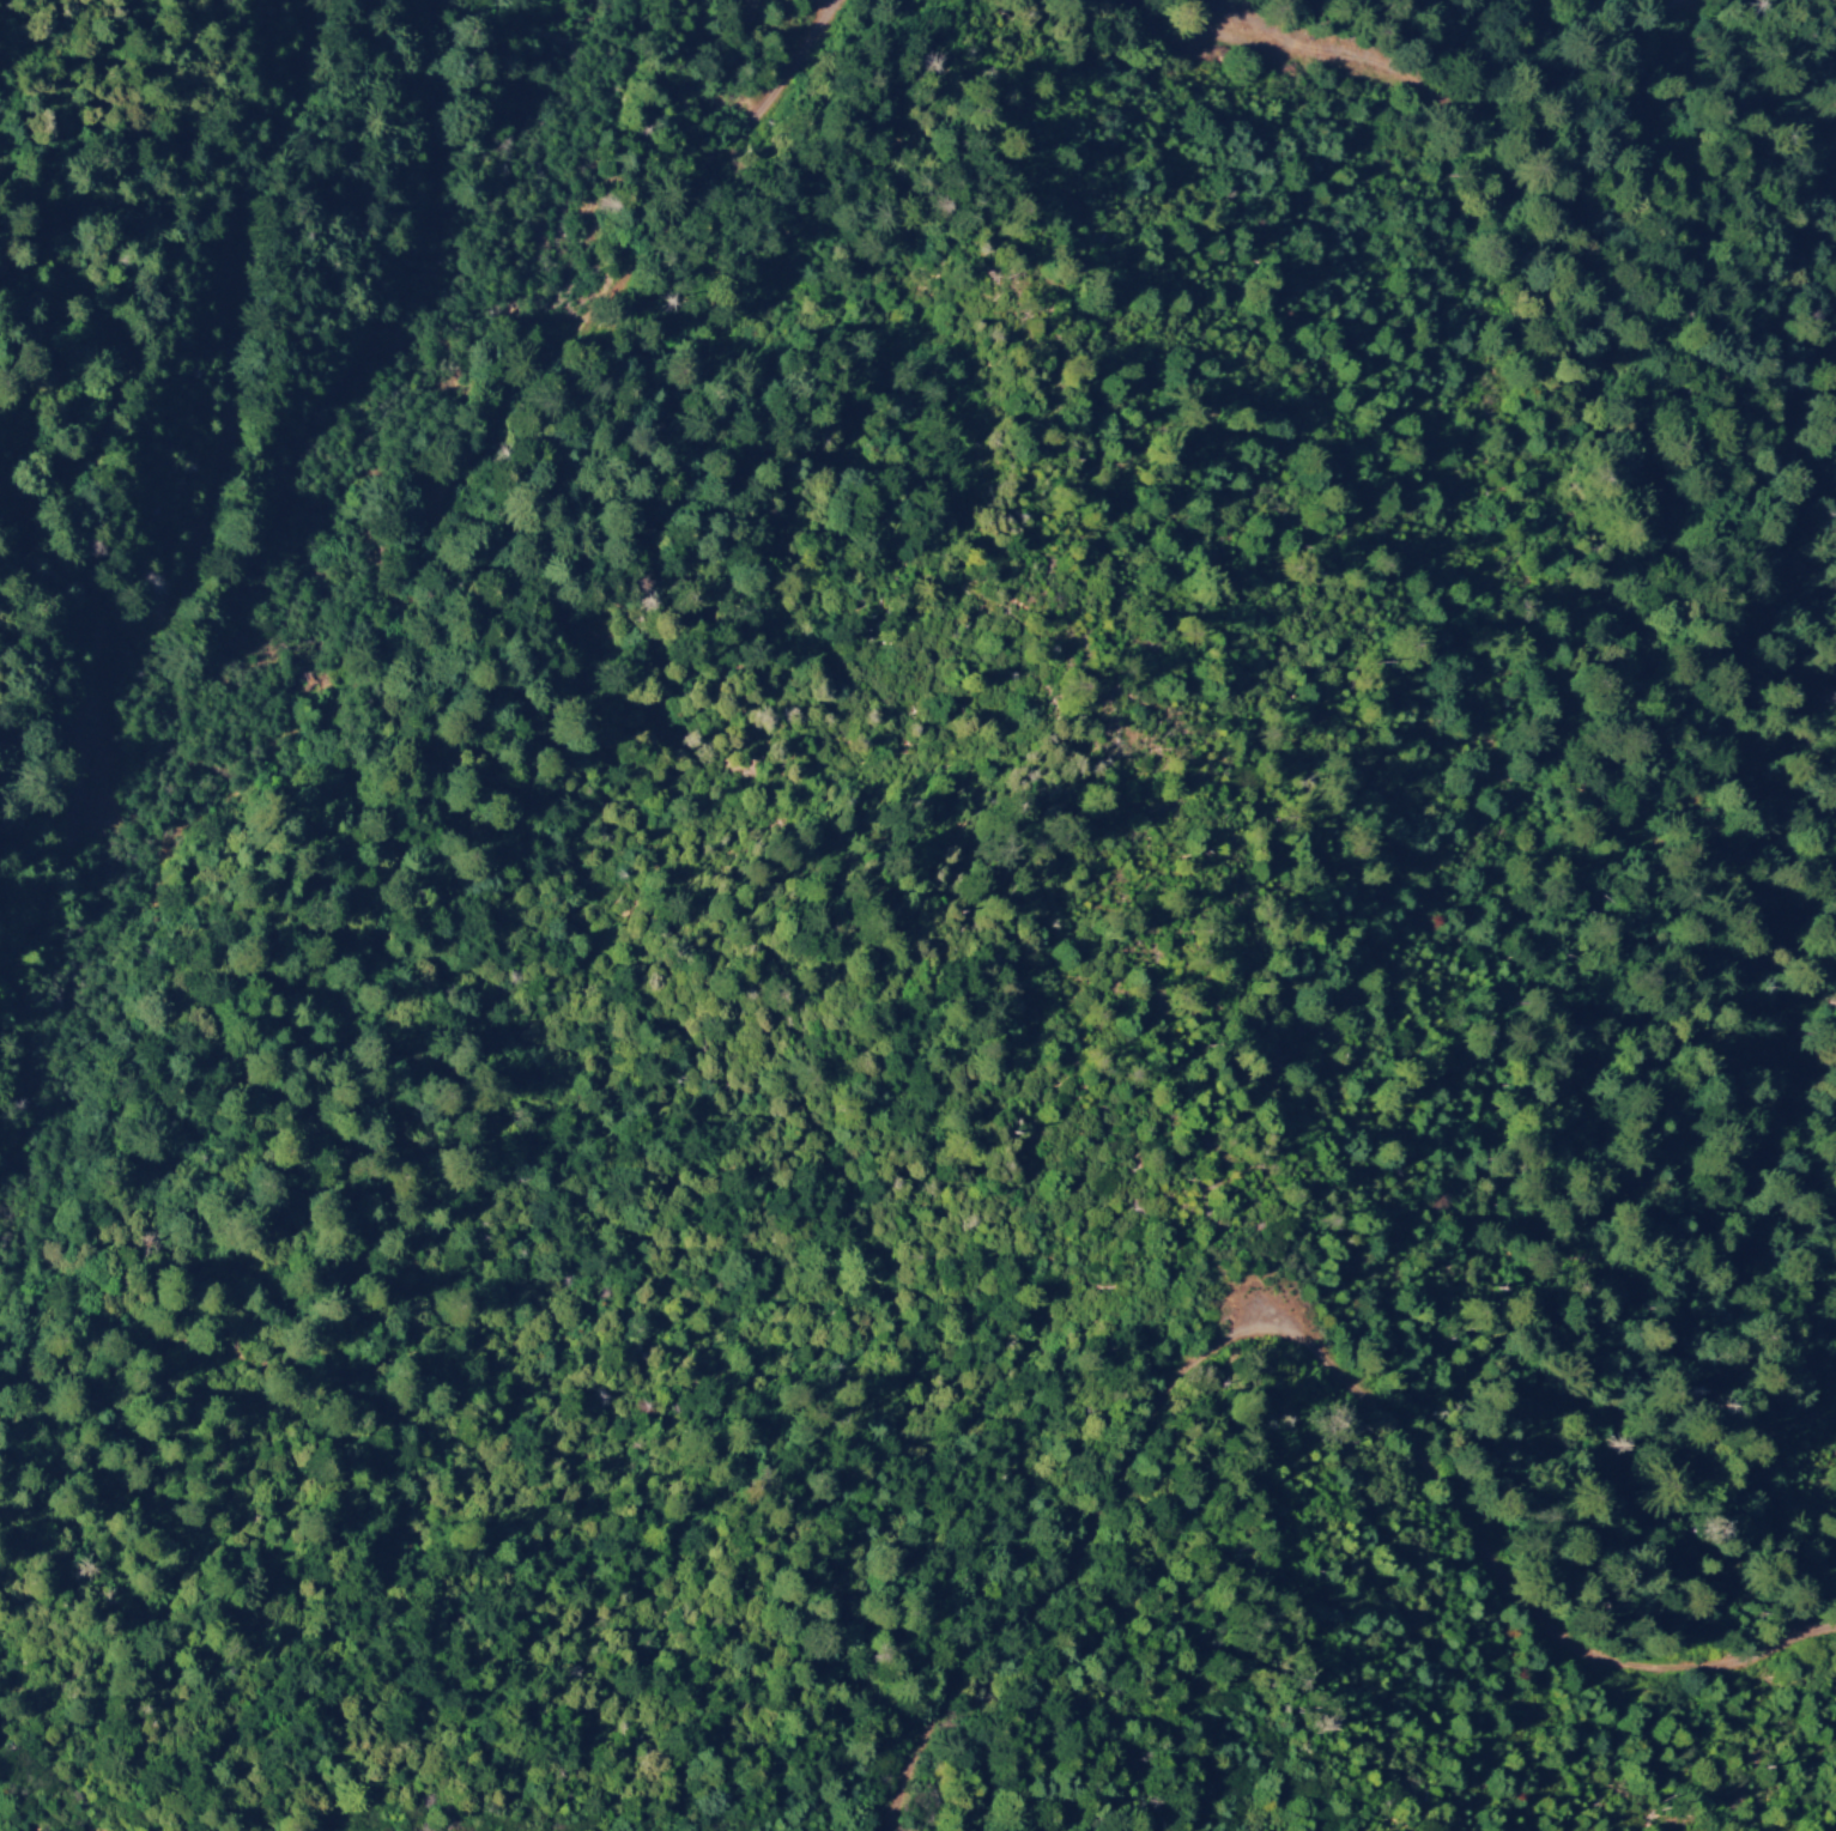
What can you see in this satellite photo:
road: (1478, 114)
road: (1169, 126)
road: (279, 374)
road: (418, 562)

